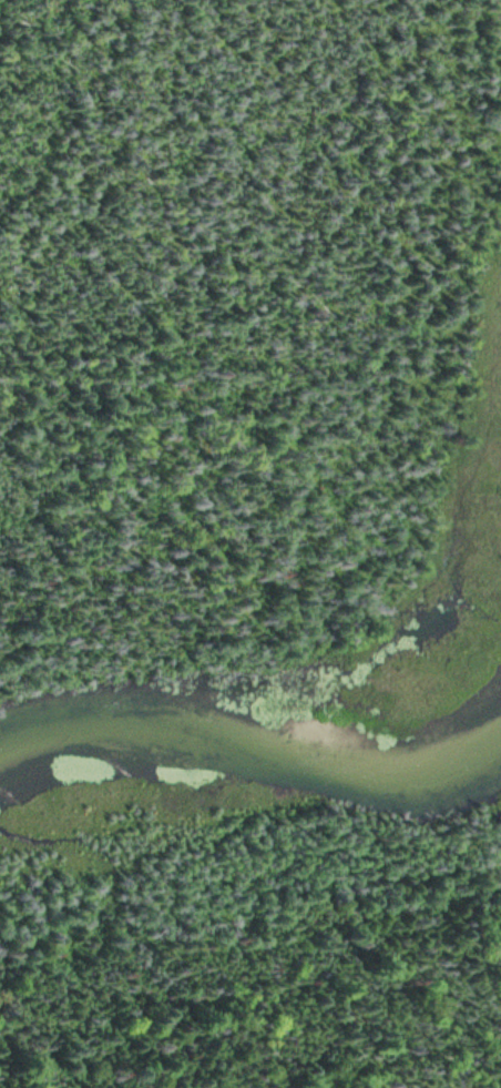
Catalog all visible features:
river: (175, 729)
river: (431, 769)

